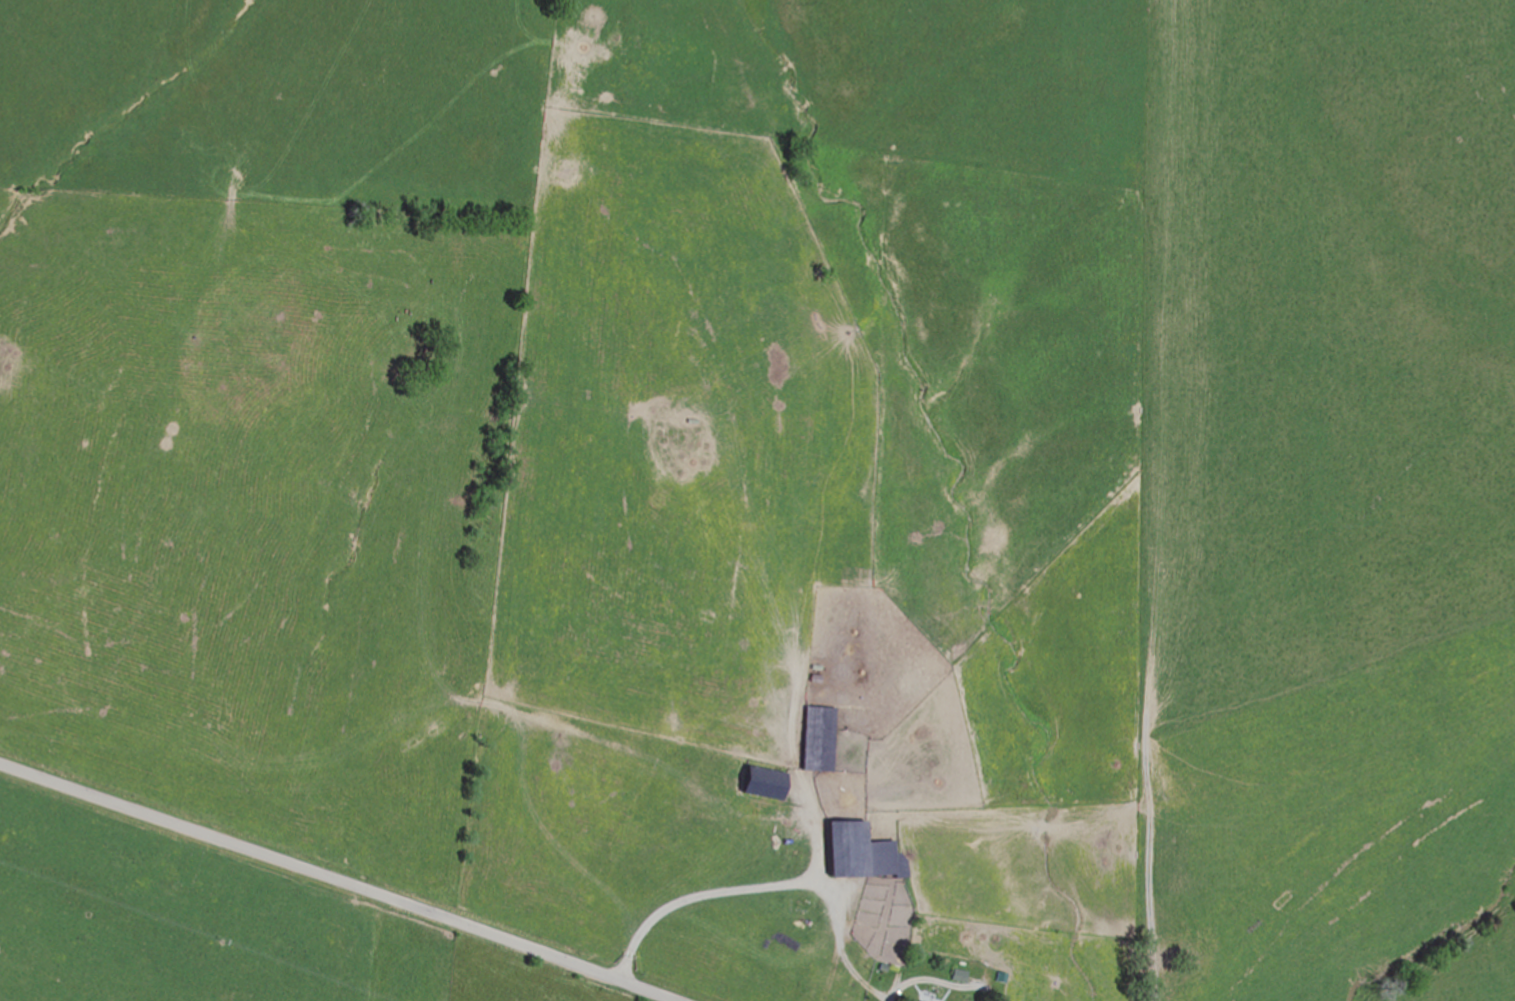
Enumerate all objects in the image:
building: (757, 783)
building: (853, 852)
road: (338, 880)

